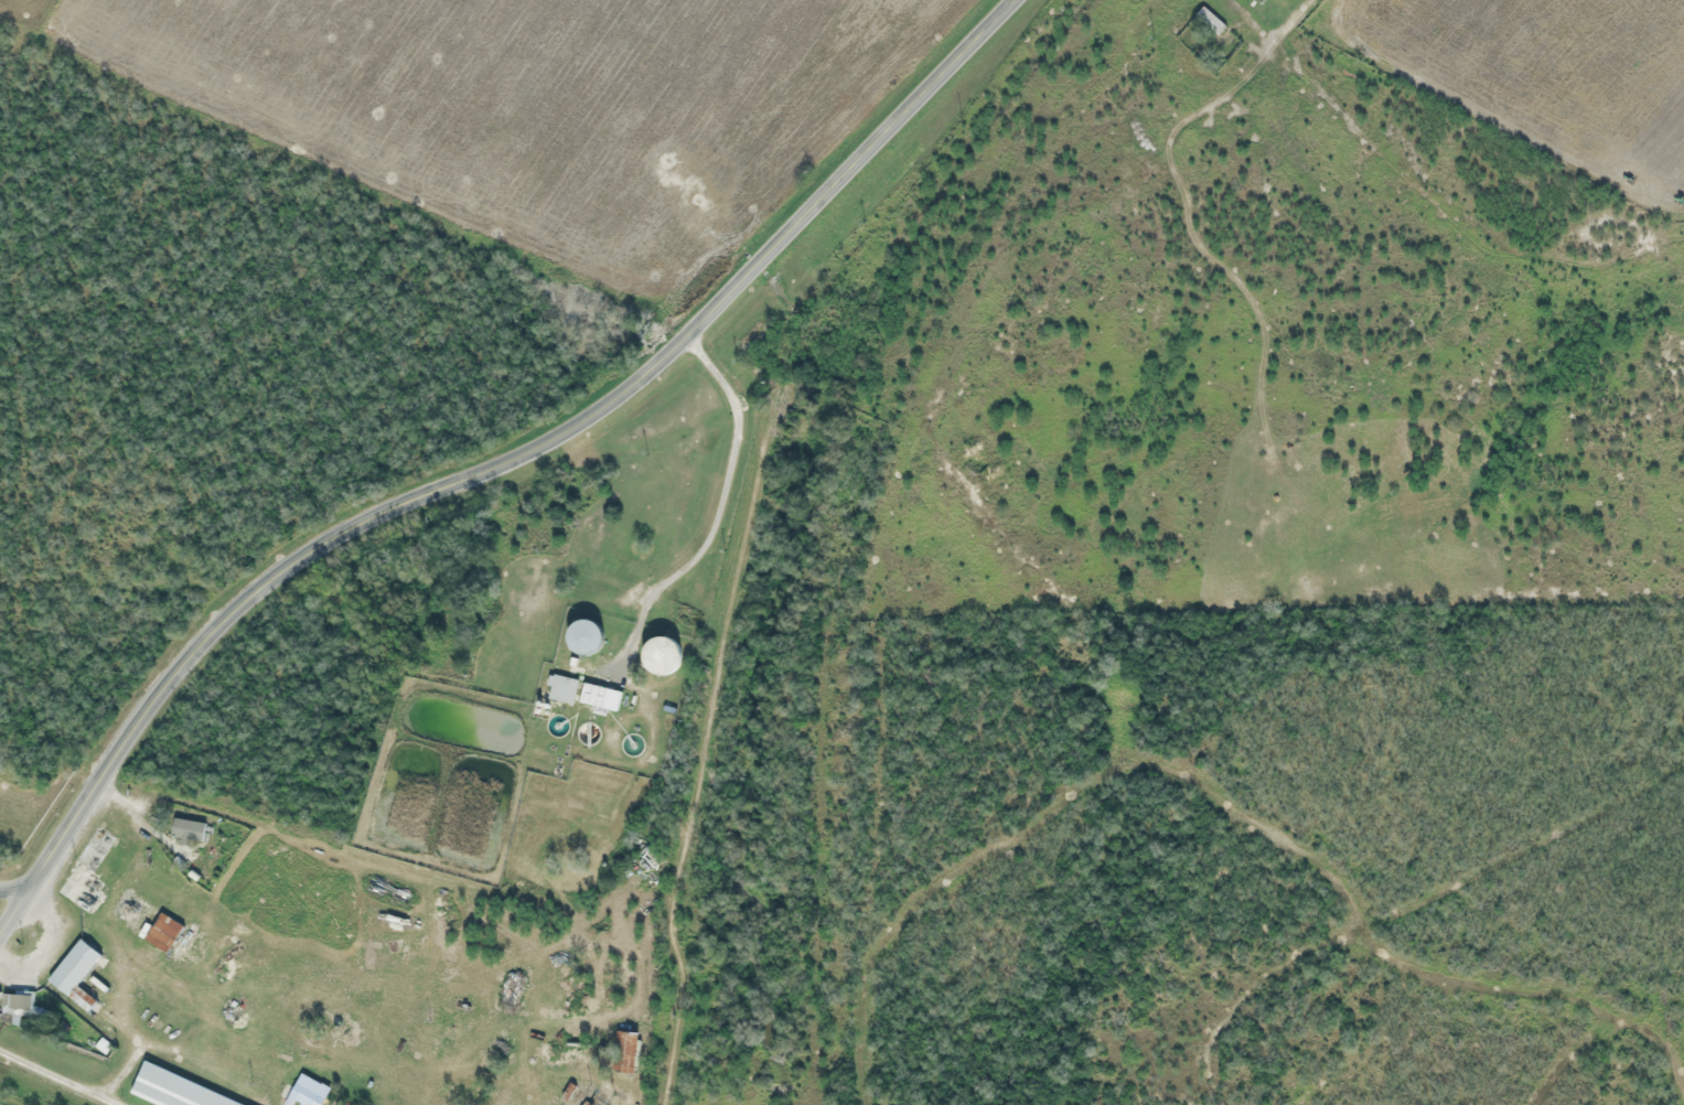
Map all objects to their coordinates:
building: (1209, 22)
park: (217, 380)
road: (500, 466)
railway: (802, 504)
building: (582, 640)
building: (659, 657)
building: (560, 690)
building: (599, 698)
building: (187, 830)
building: (88, 875)
road: (1310, 880)
road: (12, 892)
building: (144, 922)
building: (75, 975)
building: (21, 1007)
building: (624, 1052)
road: (61, 1075)
building: (171, 1090)
building: (307, 1092)

